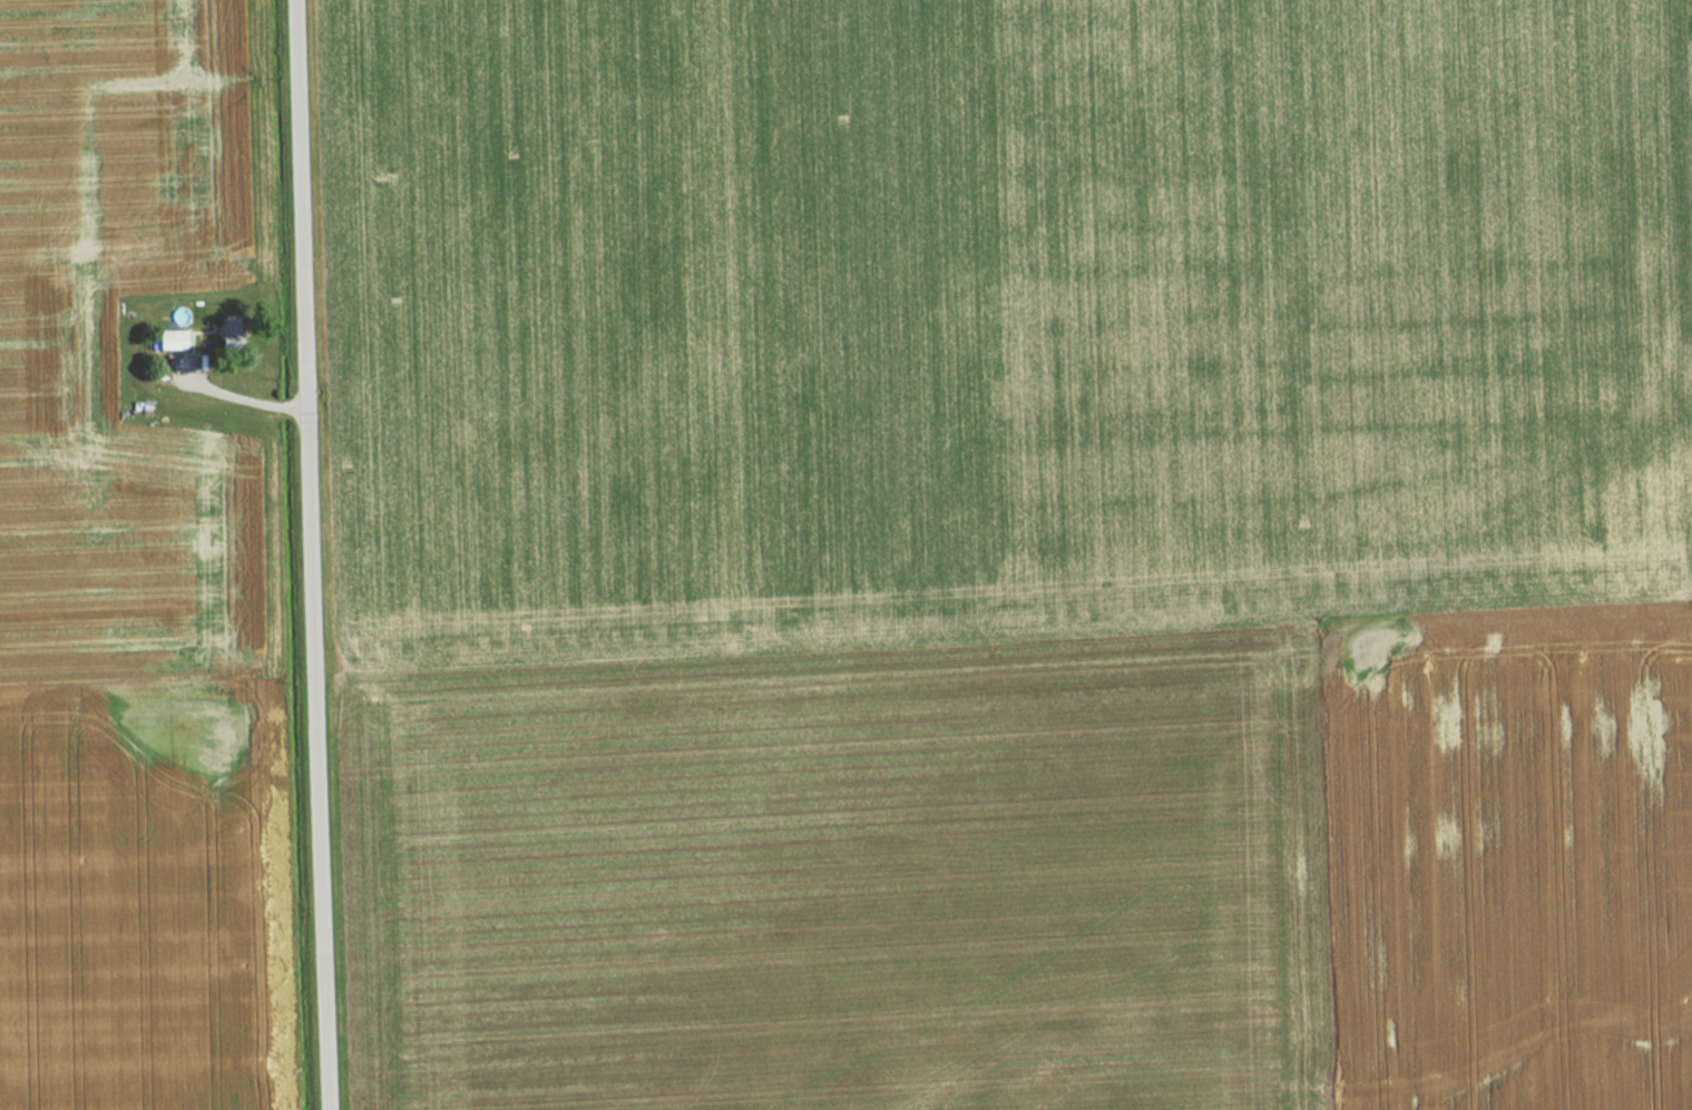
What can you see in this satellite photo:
crop: (996, 316)
building: (176, 341)
crop: (52, 360)
road: (238, 399)
road: (311, 554)
crop: (1037, 871)
crop: (127, 895)

